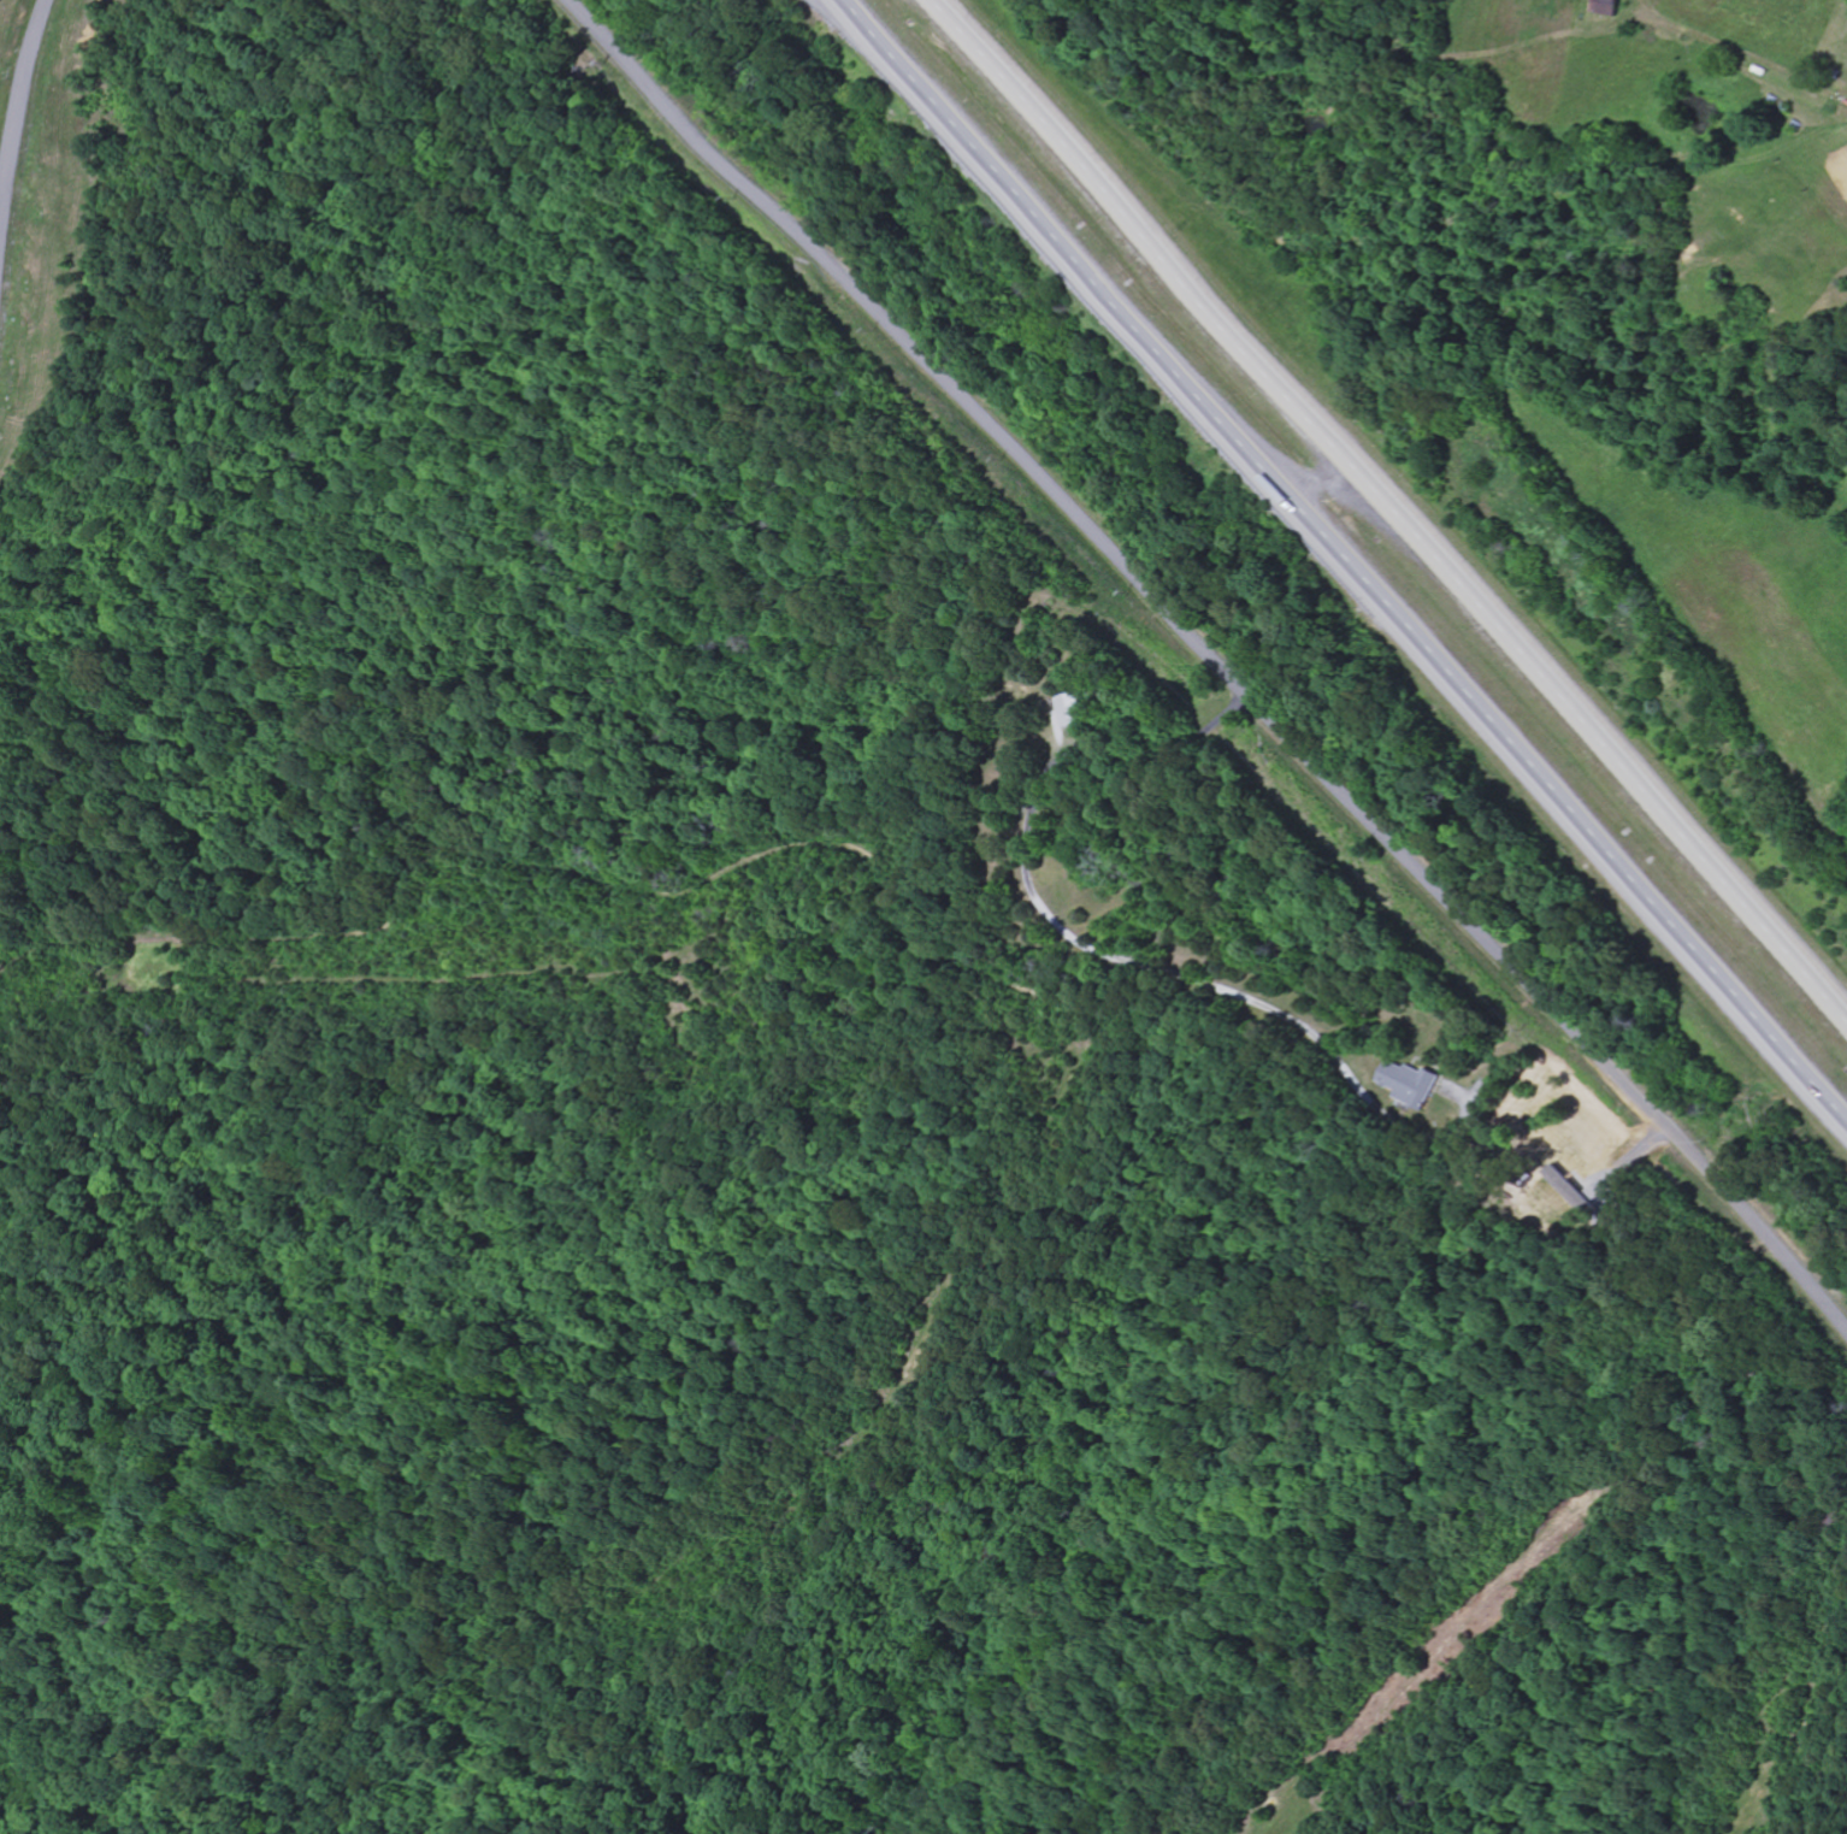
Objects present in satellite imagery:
building: (1609, 7)
road: (1391, 514)
road: (1349, 560)
road: (1216, 661)
building: (1069, 710)
building: (1410, 1085)
building: (1569, 1193)

